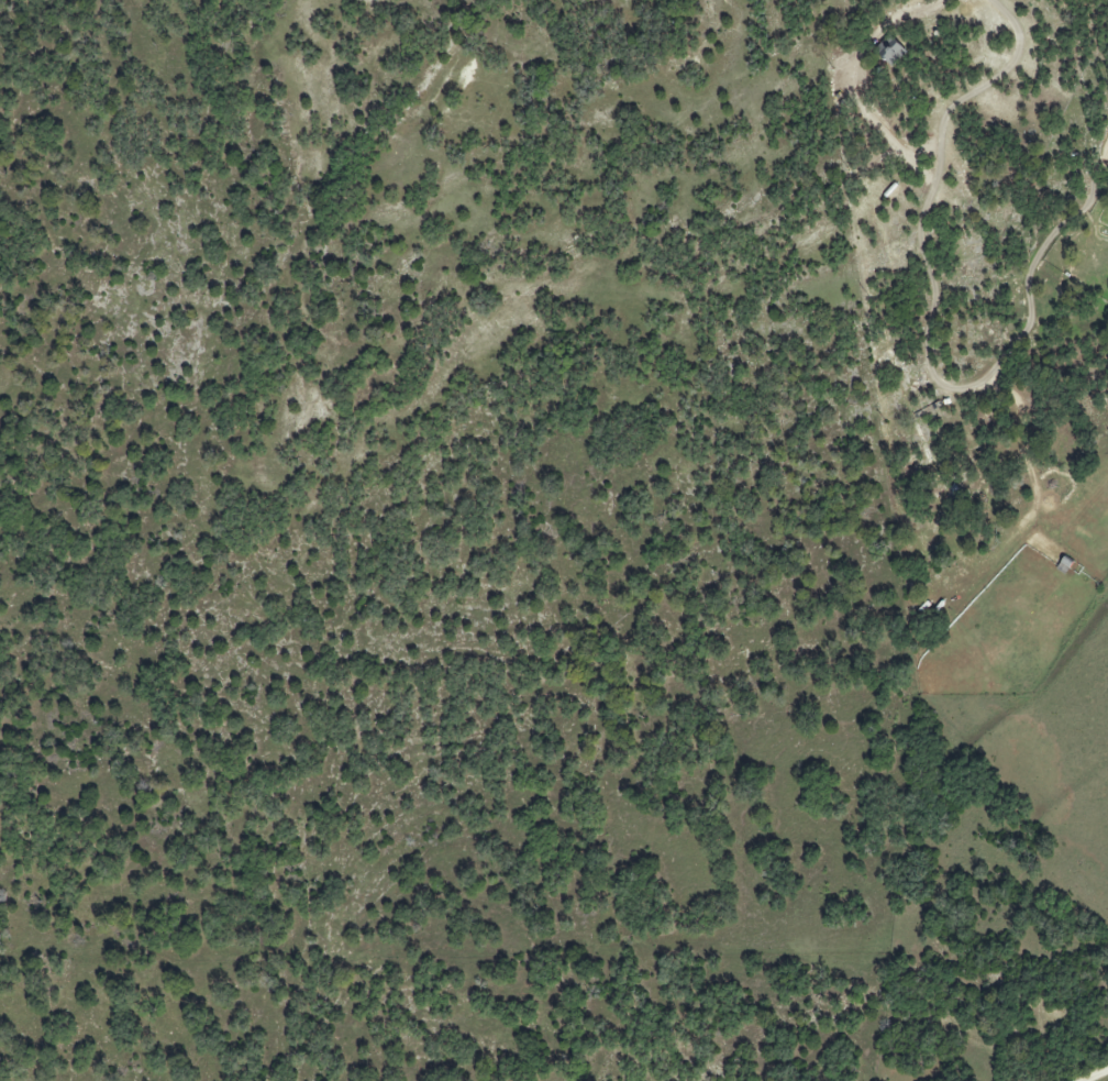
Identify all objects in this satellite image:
building: (890, 52)
road: (926, 333)
road: (1097, 1076)

